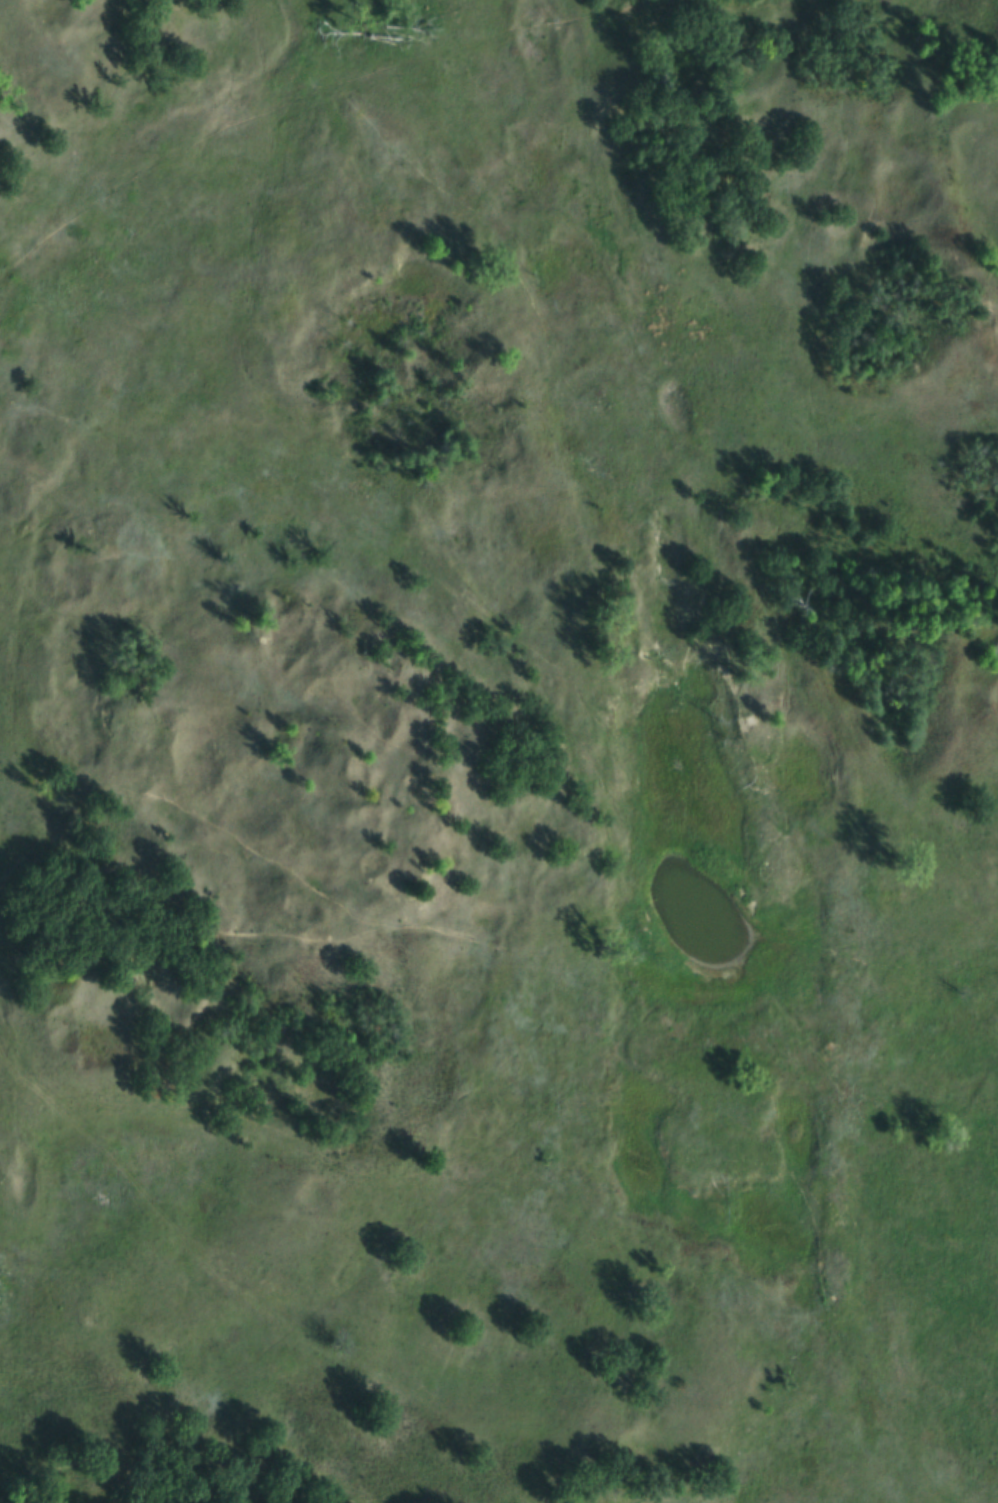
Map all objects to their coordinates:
road: (175, 1466)

